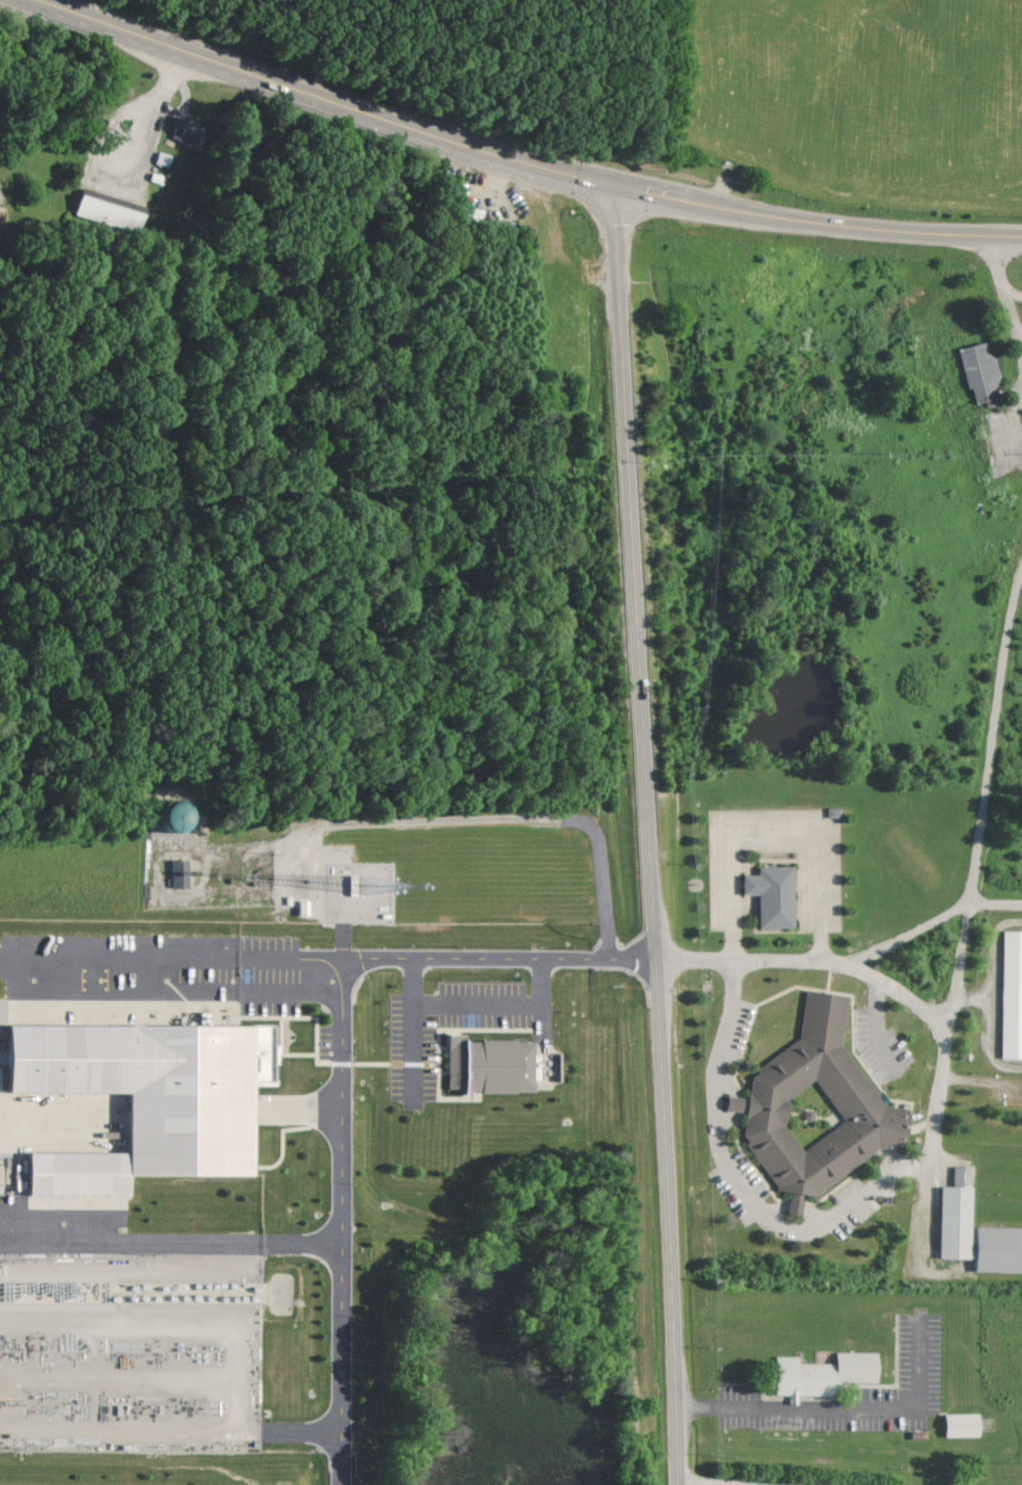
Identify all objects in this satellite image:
road: (11, 41)
road: (151, 114)
building: (187, 131)
road: (519, 161)
traffic signals: (620, 188)
building: (110, 213)
road: (1004, 292)
road: (1013, 292)
road: (1021, 339)
building: (982, 372)
road: (992, 732)
water tower: (178, 817)
road: (651, 836)
building: (181, 872)
building: (769, 894)
road: (929, 925)
road: (327, 953)
road: (960, 964)
road: (540, 994)
building: (1012, 995)
road: (476, 998)
road: (412, 1025)
building: (490, 1064)
building: (0, 1082)
building: (771, 1088)
building: (149, 1094)
road: (922, 1171)
building: (958, 1214)
road: (342, 1219)
road: (171, 1236)
building: (798, 1377)
road: (849, 1408)
building: (964, 1424)
road: (752, 1479)

